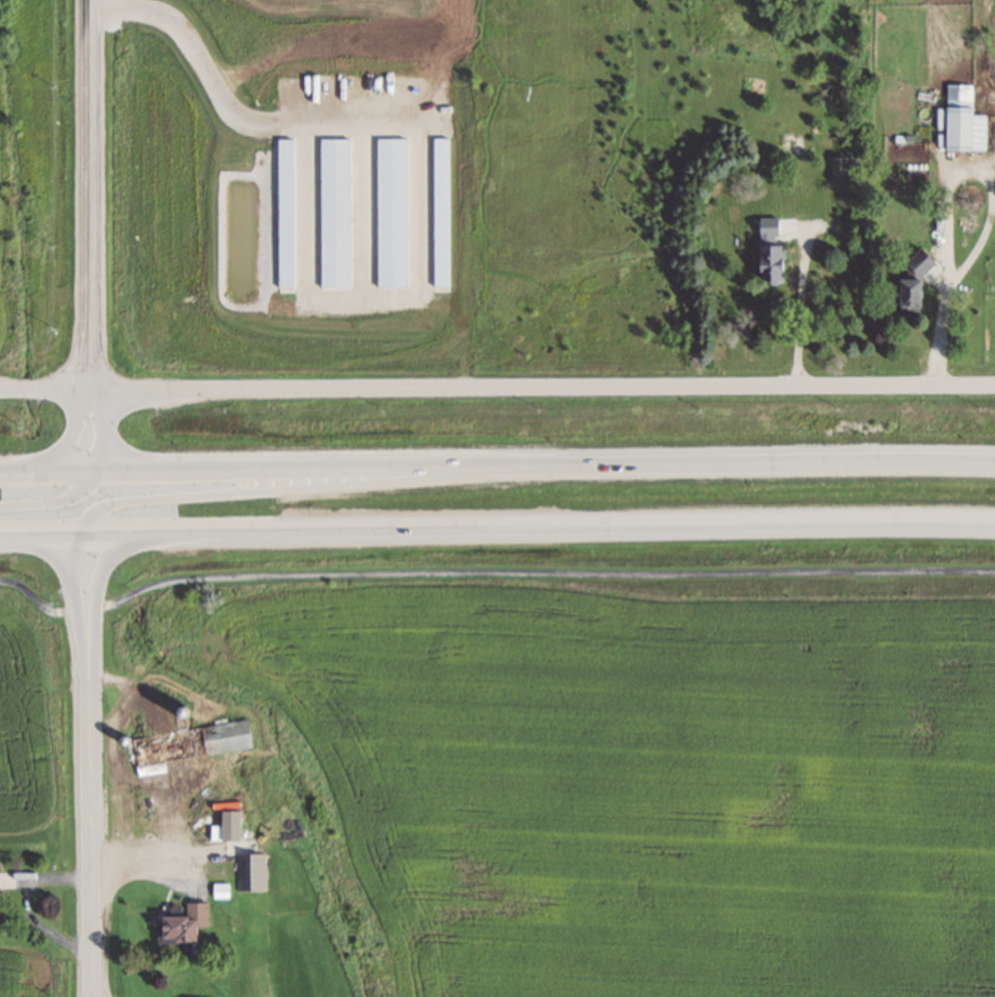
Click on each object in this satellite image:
building: (955, 121)
building: (836, 169)
road: (89, 195)
building: (774, 229)
building: (768, 265)
building: (910, 280)
road: (497, 387)
road: (105, 429)
road: (75, 435)
road: (497, 467)
road: (361, 484)
road: (53, 498)
road: (497, 526)
road: (103, 570)
road: (74, 571)
road: (489, 575)
crop: (38, 735)
building: (187, 742)
crop: (642, 780)
road: (89, 804)
building: (250, 871)
building: (181, 923)
crop: (39, 971)

